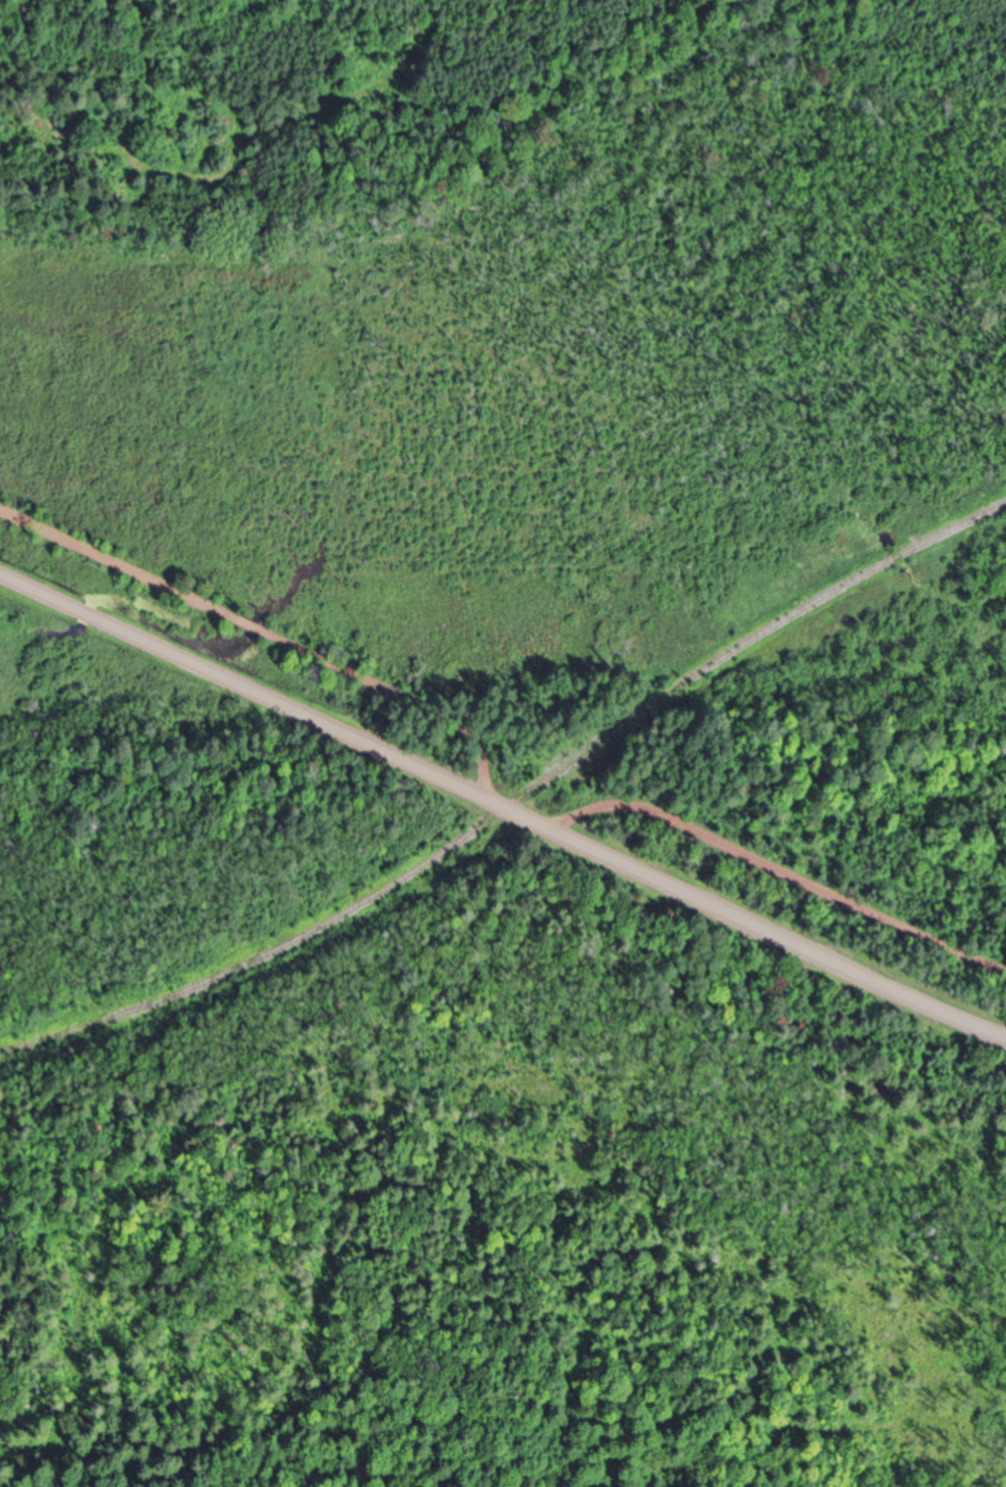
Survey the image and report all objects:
road: (502, 744)
railway: (514, 804)
road: (502, 806)

